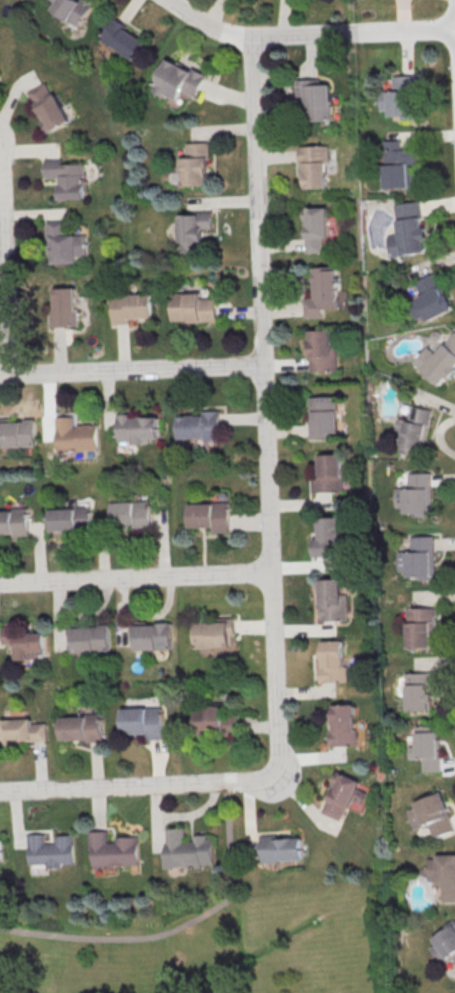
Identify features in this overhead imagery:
building: (73, 10)
road: (309, 32)
building: (122, 42)
building: (177, 81)
building: (401, 97)
building: (316, 98)
building: (48, 110)
road: (0, 142)
building: (195, 164)
building: (398, 164)
building: (314, 165)
building: (66, 177)
building: (316, 229)
building: (194, 230)
building: (408, 230)
building: (64, 245)
road: (3, 284)
building: (324, 292)
building: (431, 298)
building: (131, 307)
building: (194, 307)
building: (64, 311)
building: (322, 351)
building: (439, 361)
road: (131, 369)
road: (264, 403)
building: (324, 415)
building: (138, 428)
building: (201, 428)
building: (414, 430)
building: (17, 435)
building: (75, 437)
building: (329, 473)
building: (416, 494)
building: (132, 513)
building: (211, 516)
building: (71, 519)
building: (14, 522)
building: (328, 537)
building: (419, 558)
road: (136, 576)
building: (333, 600)
building: (421, 627)
building: (216, 634)
building: (154, 636)
building: (92, 639)
building: (25, 642)
building: (334, 661)
building: (419, 691)
building: (217, 720)
building: (144, 721)
building: (344, 724)
building: (83, 727)
building: (24, 729)
building: (427, 747)
road: (137, 785)
building: (344, 796)
building: (433, 814)
building: (1, 848)
building: (281, 848)
building: (189, 849)
building: (49, 850)
building: (113, 850)
building: (443, 874)
road: (176, 928)
park: (190, 940)
building: (444, 944)

